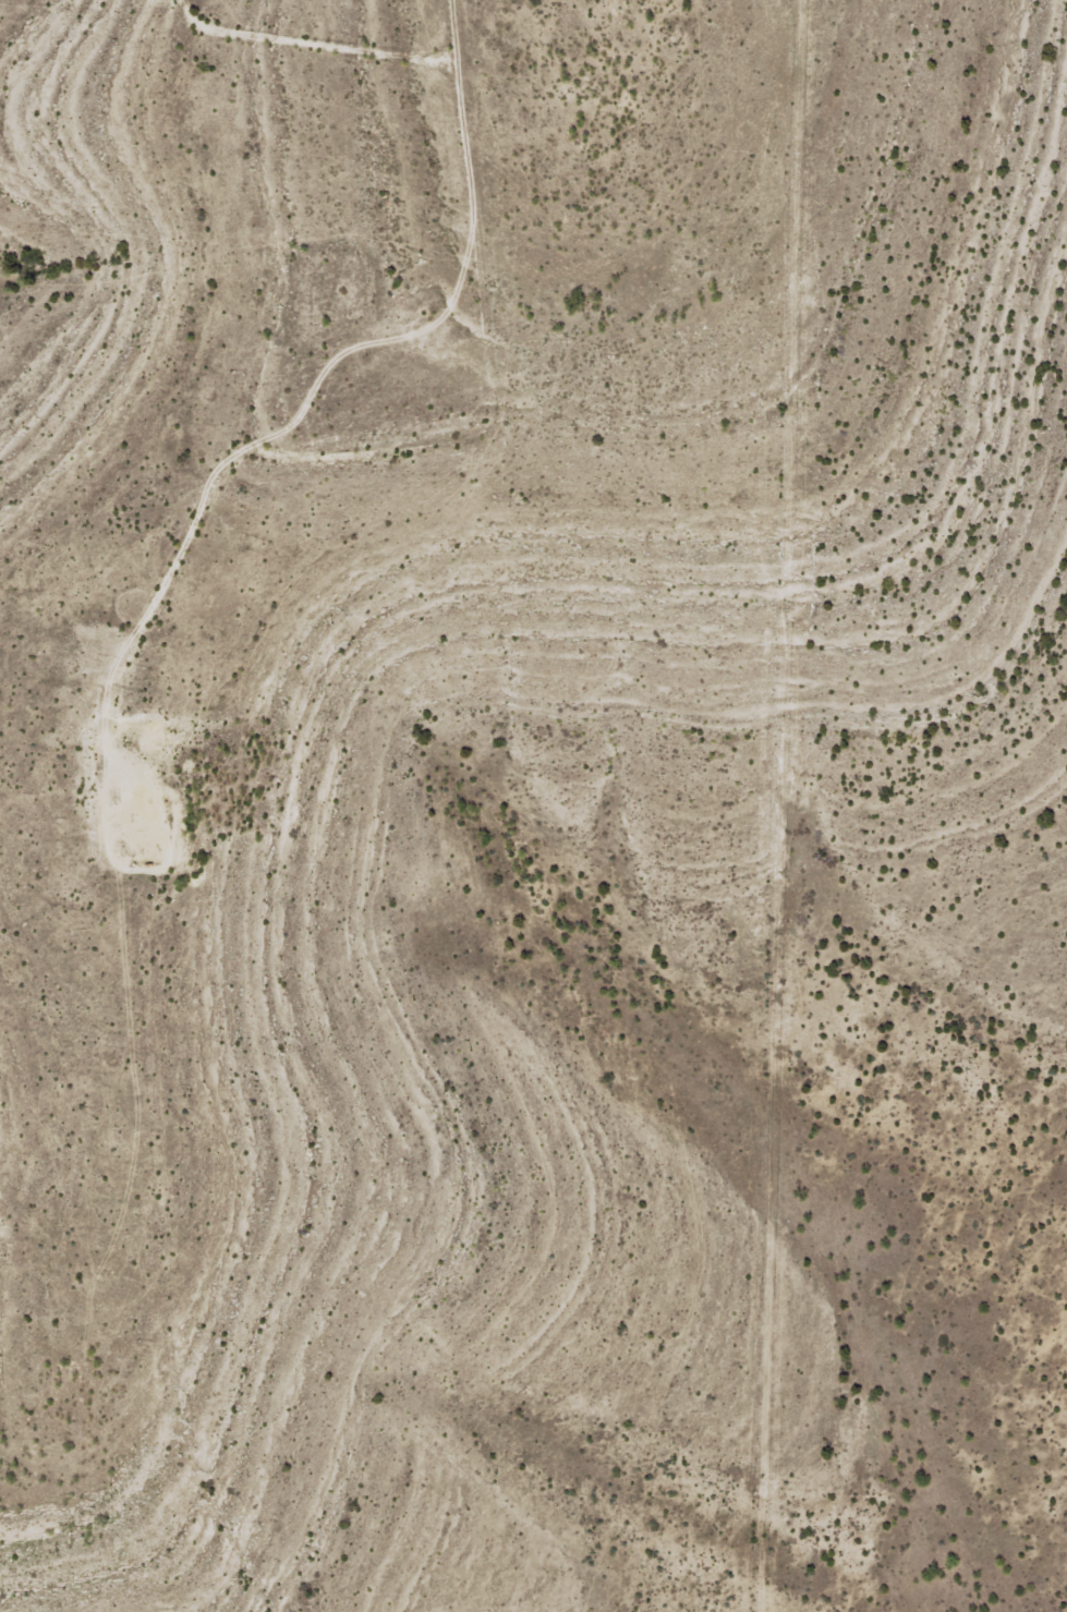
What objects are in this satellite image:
road: (431, 199)

